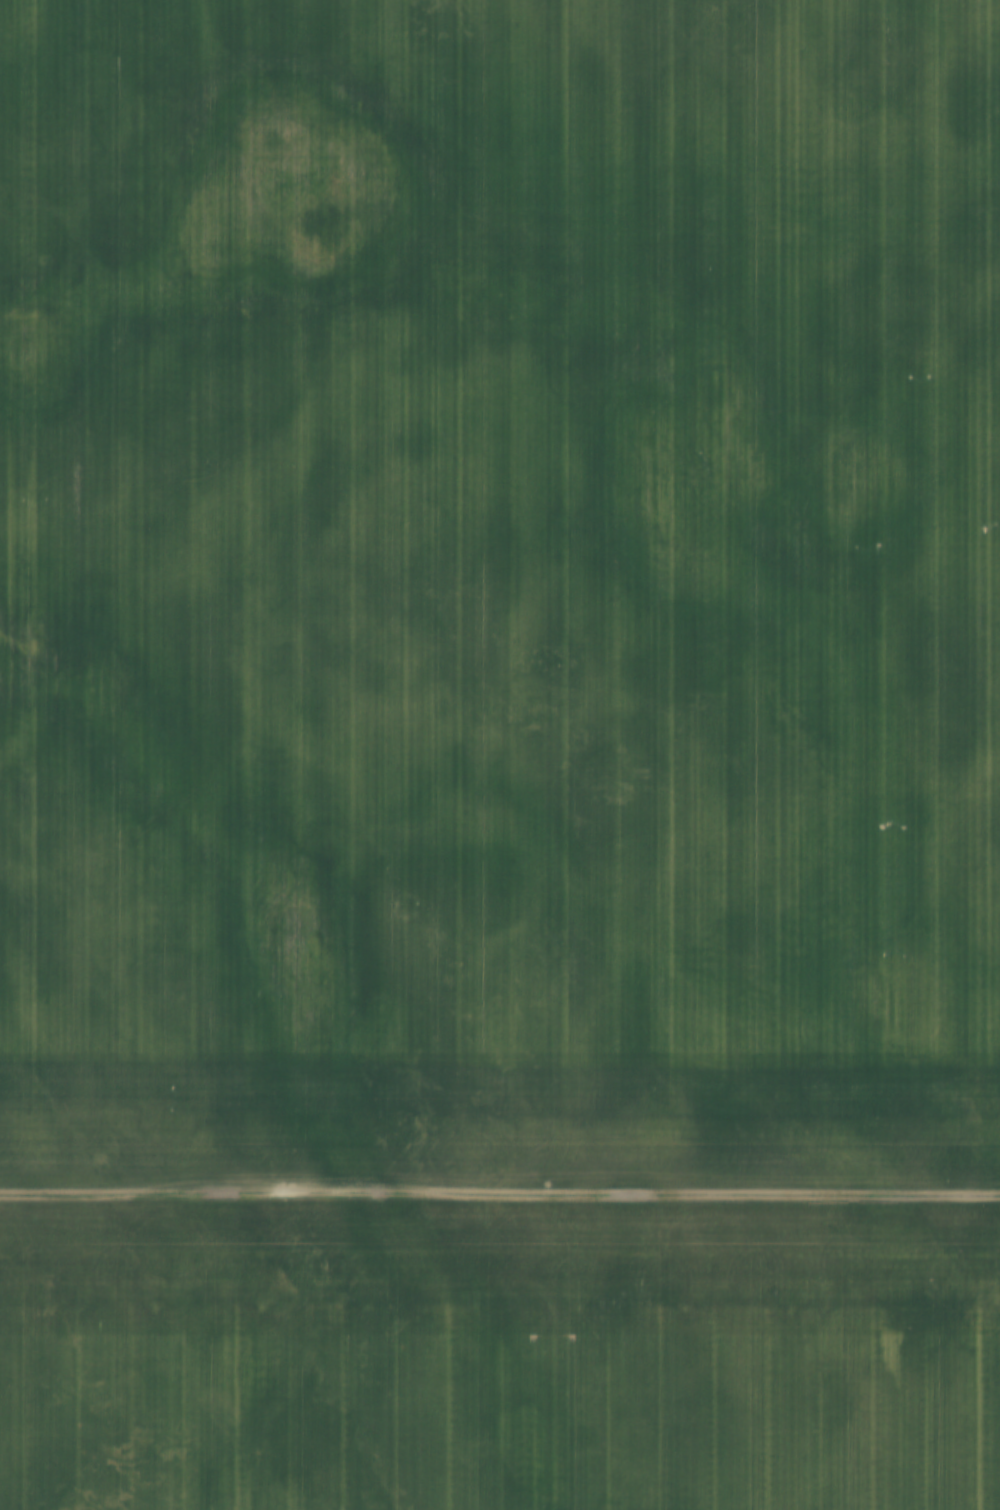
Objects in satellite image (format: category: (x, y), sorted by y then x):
road: (499, 1199)

